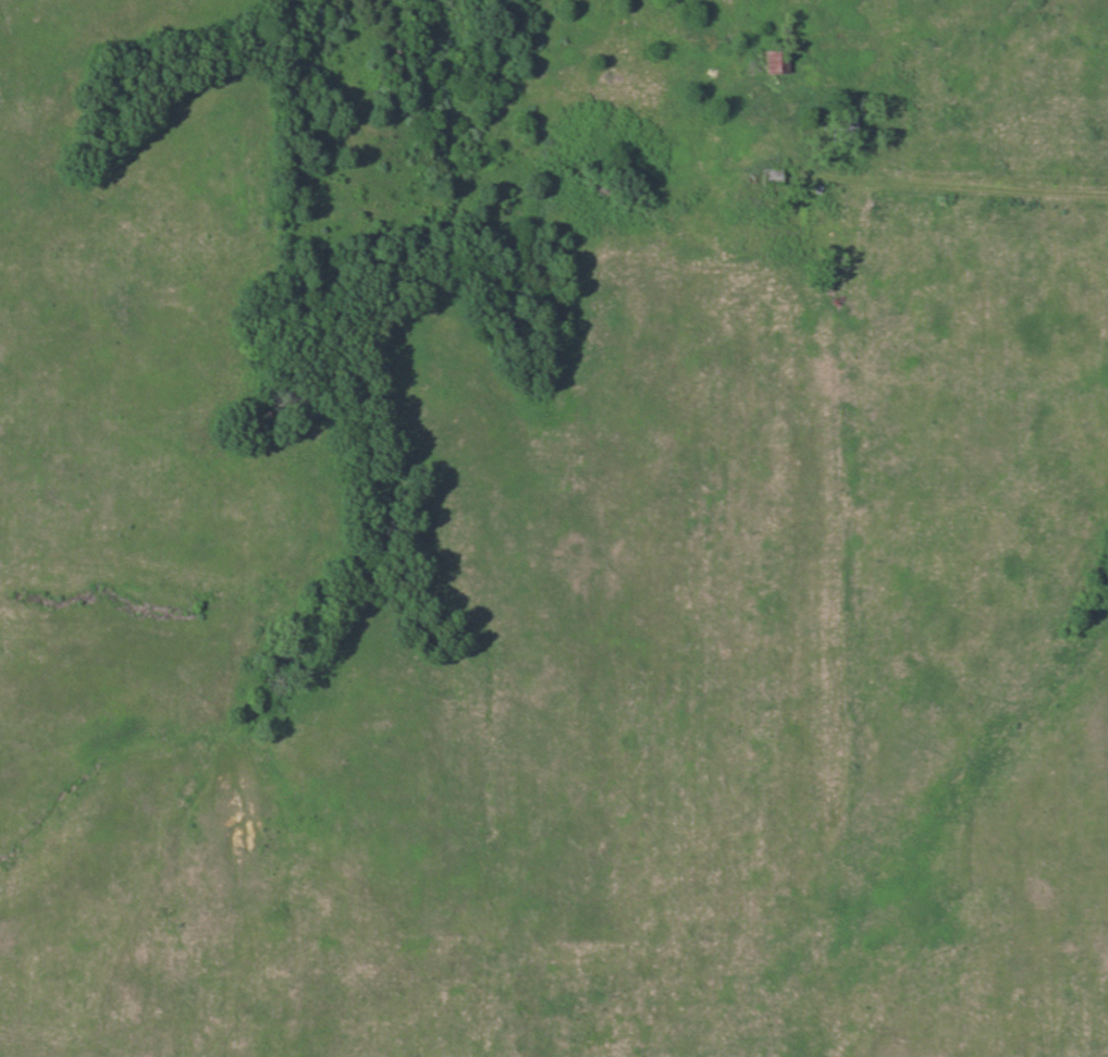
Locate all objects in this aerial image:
building: (773, 60)

